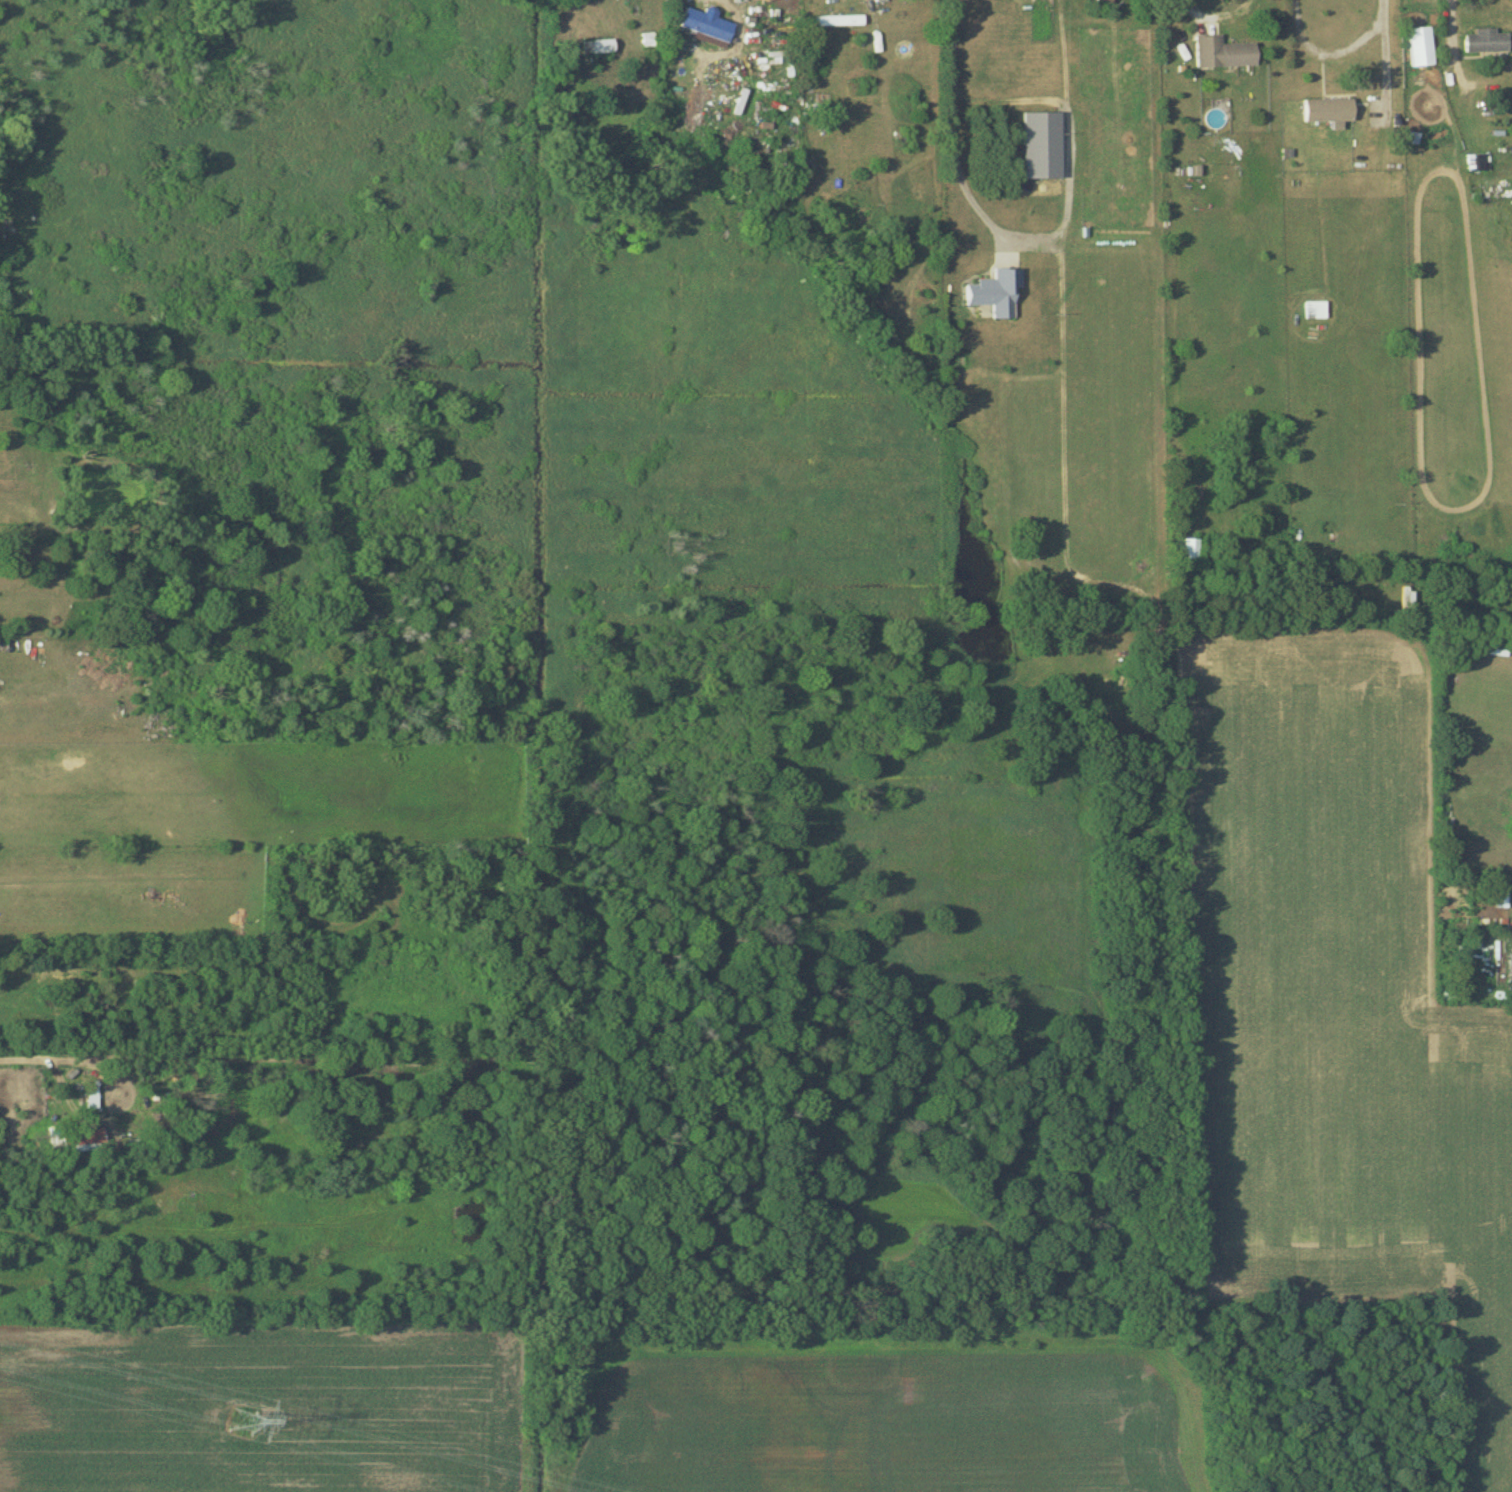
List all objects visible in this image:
road: (1217, 12)
building: (839, 20)
road: (1449, 20)
building: (706, 23)
building: (1485, 41)
building: (598, 46)
building: (1420, 46)
road: (1337, 49)
building: (1222, 52)
building: (1327, 109)
road: (948, 143)
building: (994, 291)
building: (1191, 548)
power tower: (242, 1419)

